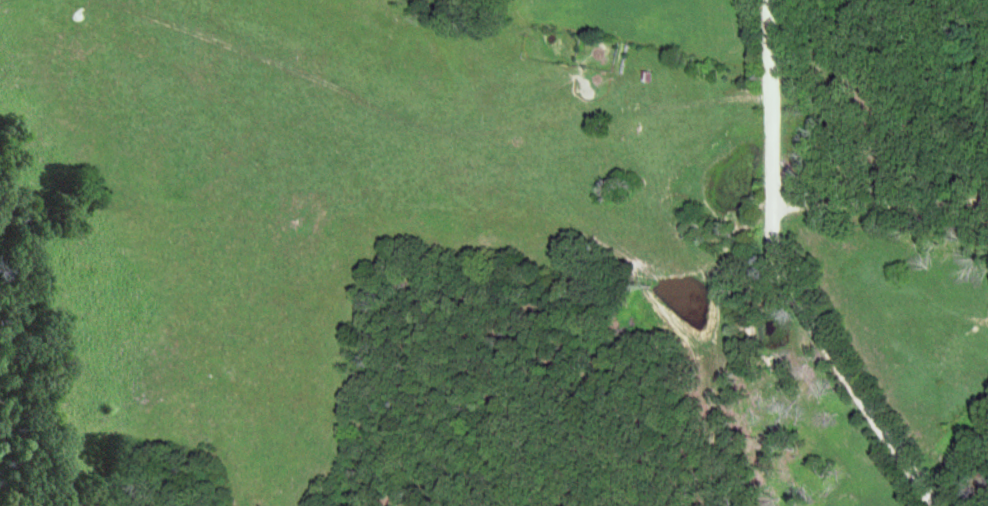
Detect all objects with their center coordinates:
road: (877, 204)
road: (782, 273)

